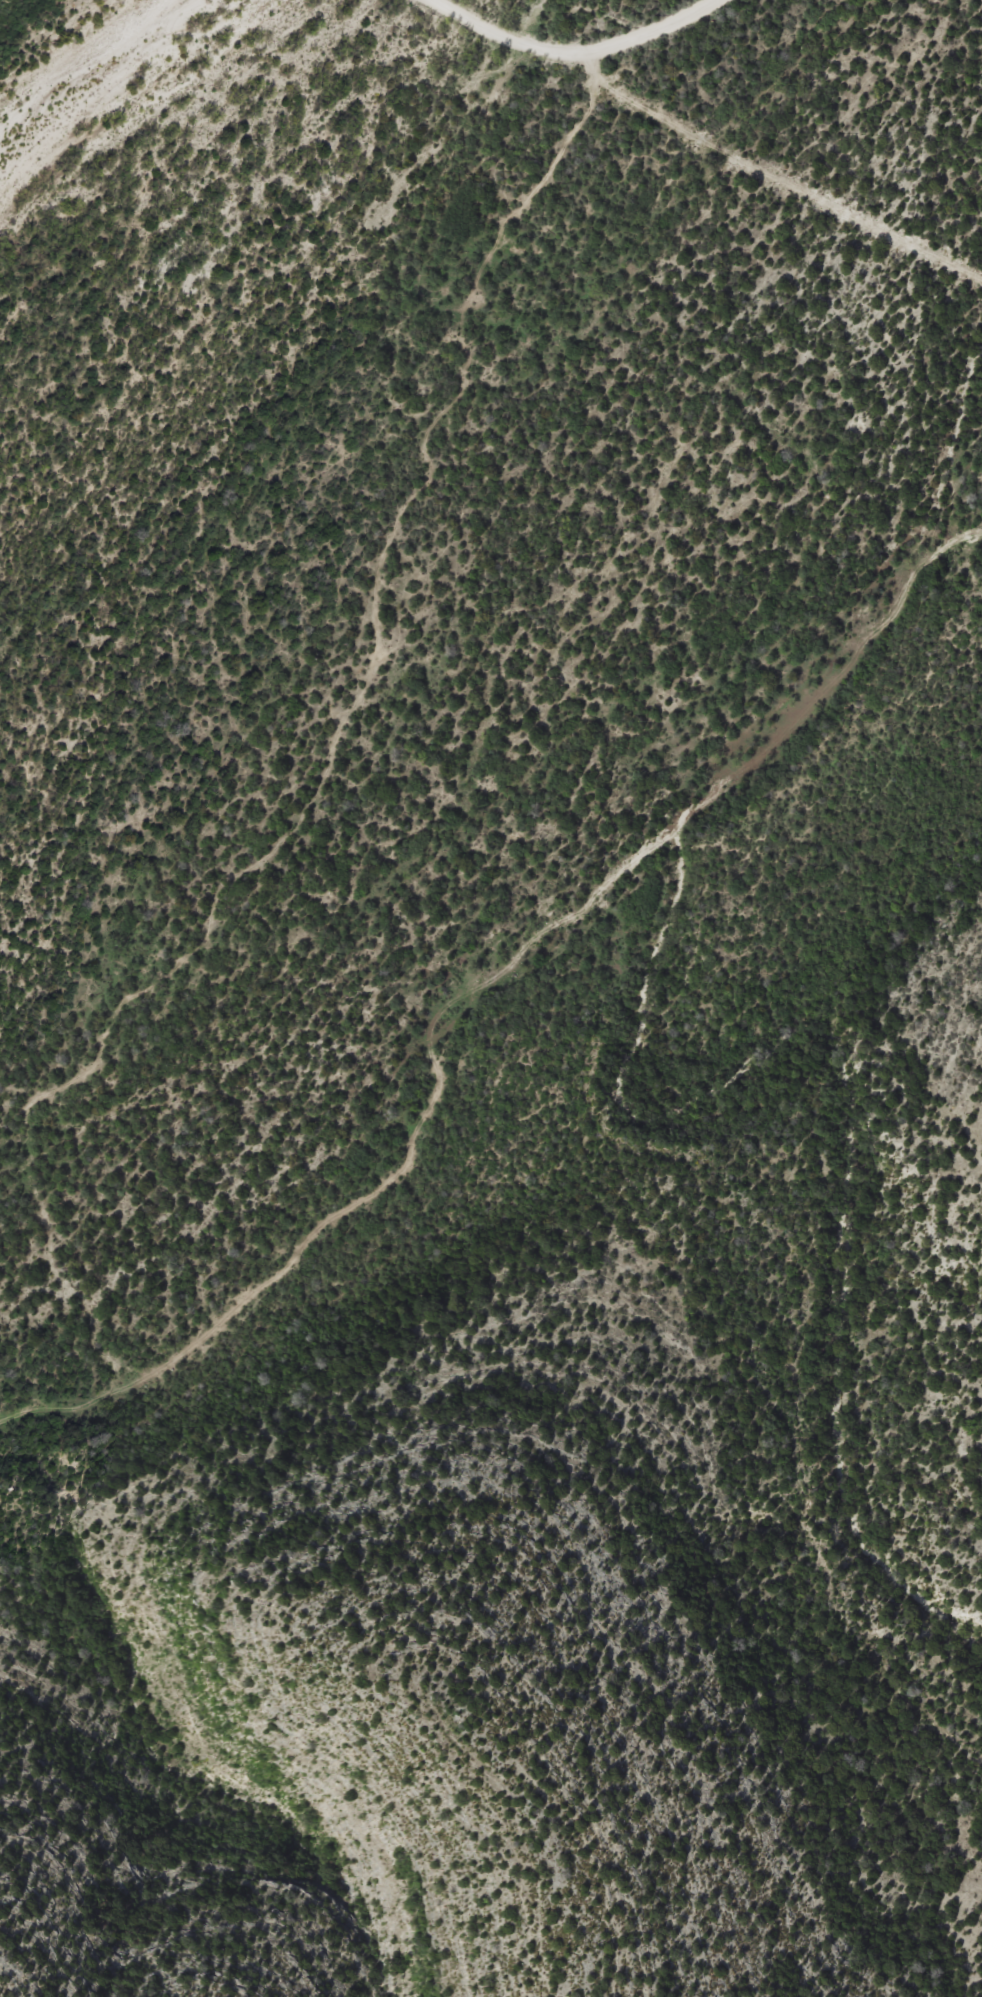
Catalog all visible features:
road: (578, 51)
river: (63, 86)

